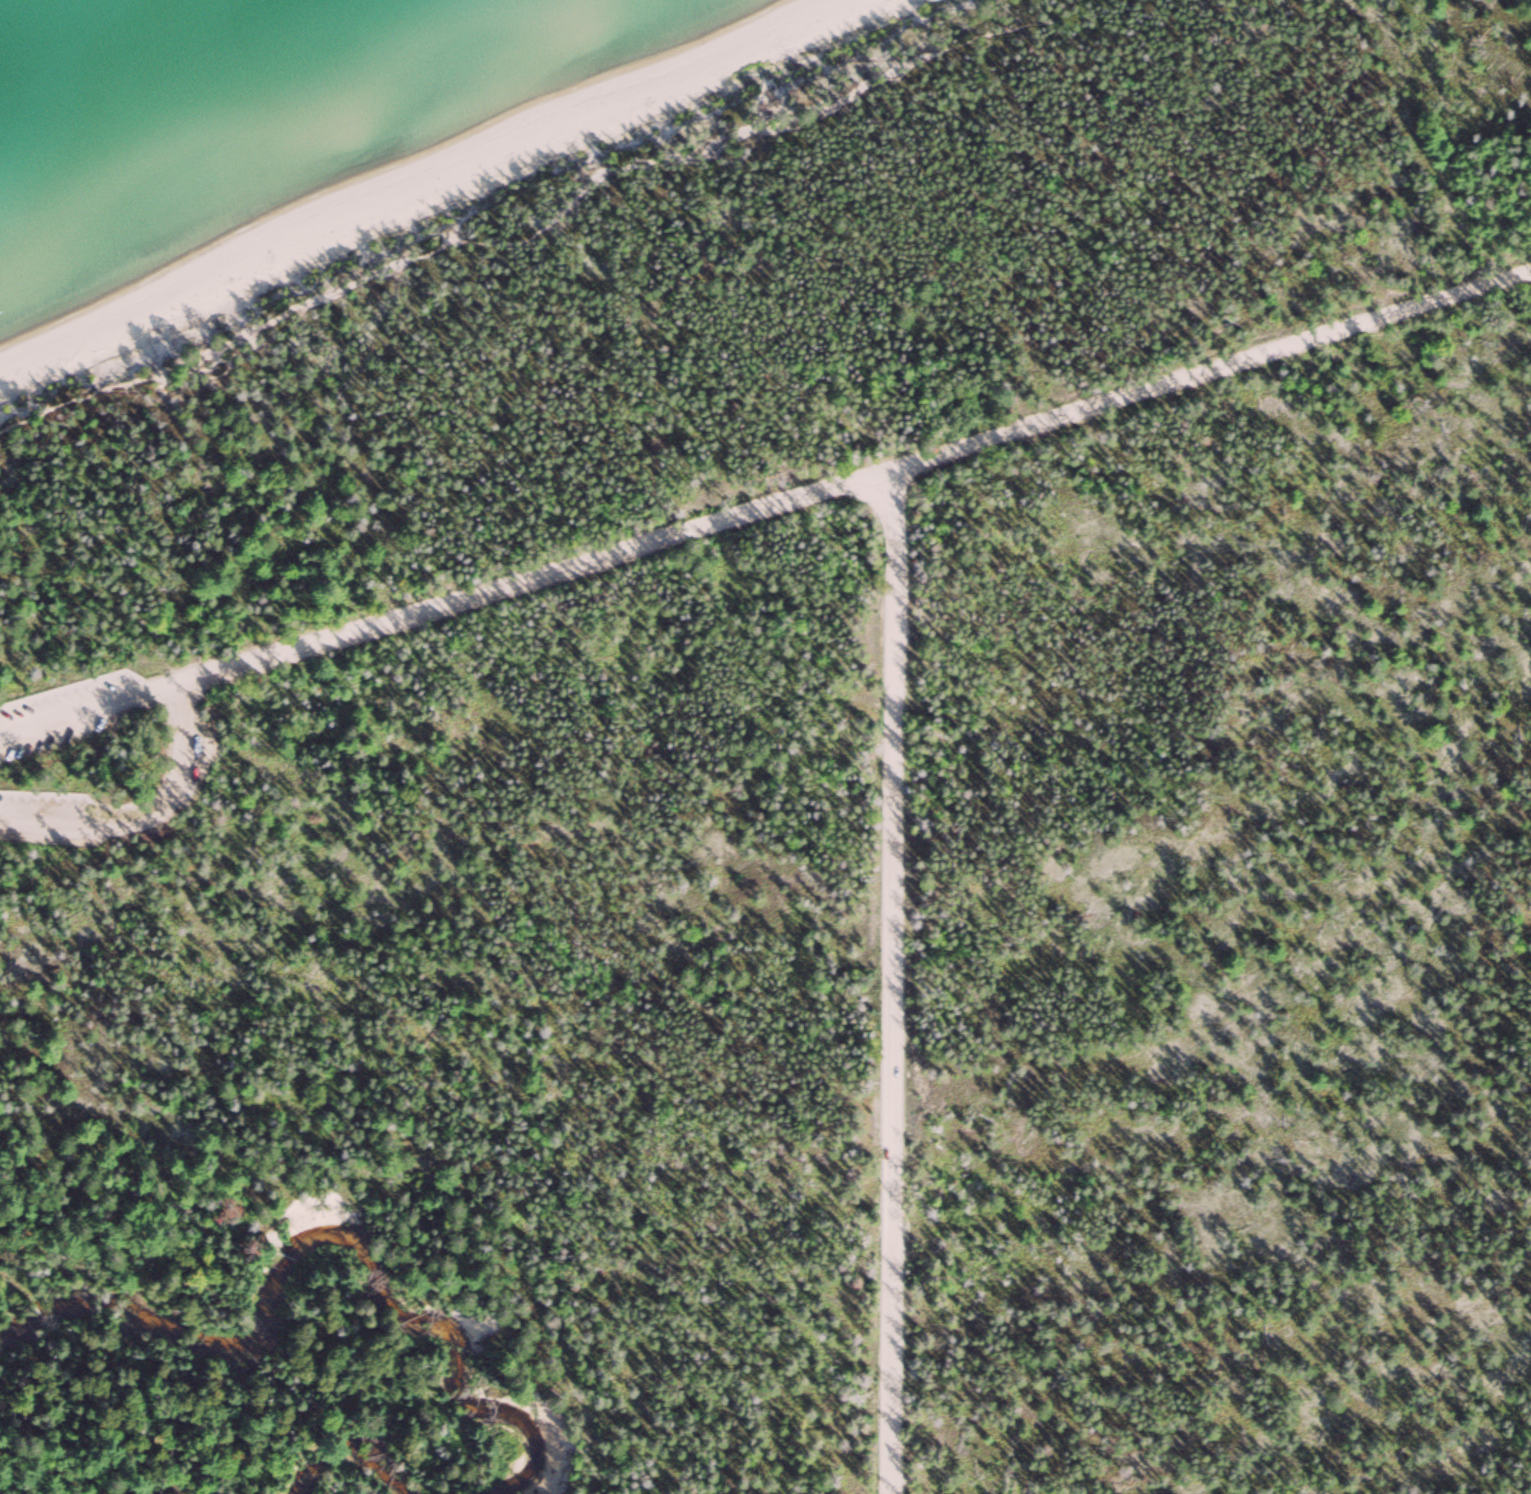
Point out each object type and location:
road: (544, 227)
road: (858, 483)
road: (90, 703)
parking lot: (76, 710)
parking lot: (183, 768)
parking lot: (50, 816)
road: (156, 823)
road: (895, 981)
river: (321, 1240)
river: (357, 1452)
road: (1530, 1491)

